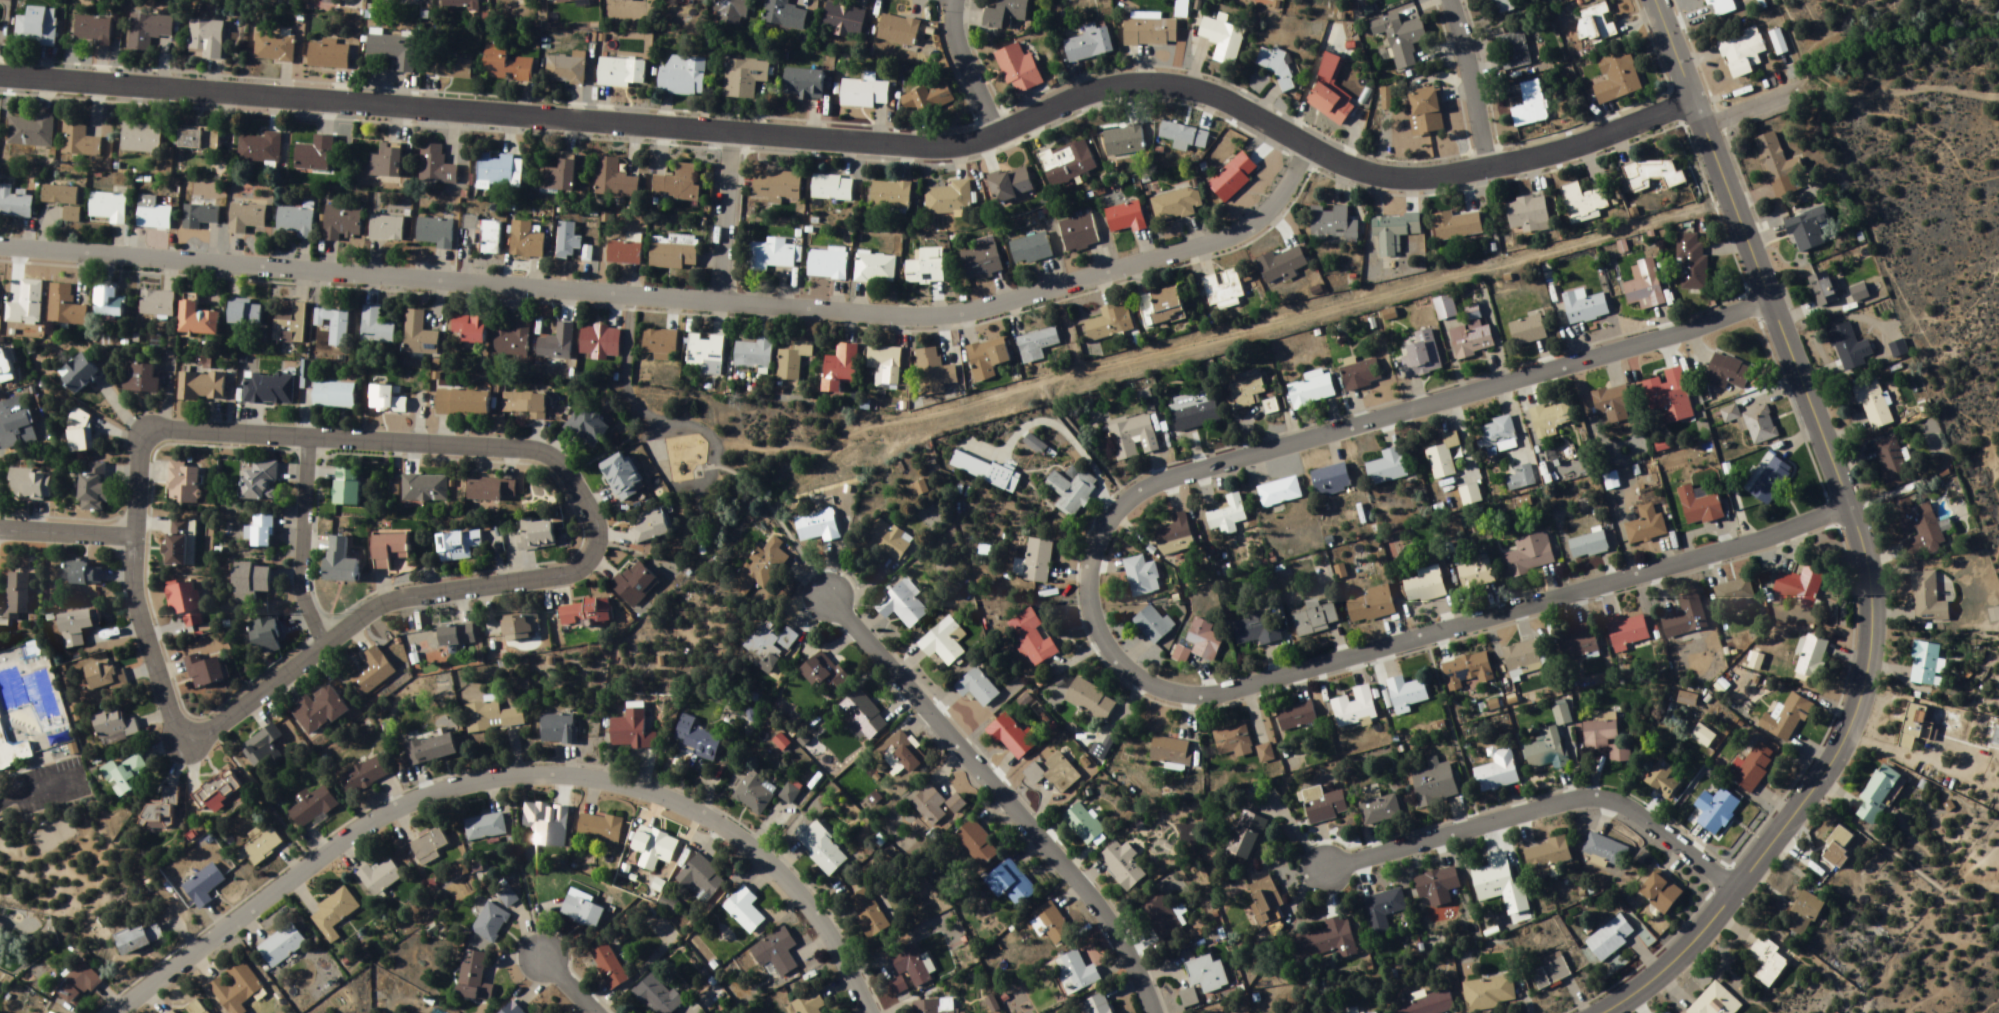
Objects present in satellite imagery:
building: (568, 0)
building: (1370, 0)
building: (516, 1)
road: (947, 1)
building: (459, 4)
building: (1502, 7)
building: (1720, 7)
building: (730, 12)
building: (1005, 14)
building: (784, 15)
building: (843, 19)
building: (1595, 24)
building: (36, 27)
building: (94, 30)
building: (148, 31)
building: (898, 31)
building: (1150, 33)
building: (206, 38)
building: (1400, 39)
building: (1223, 40)
building: (1089, 44)
building: (274, 48)
road: (1672, 50)
building: (393, 51)
building: (1513, 51)
building: (1742, 52)
building: (328, 55)
building: (506, 65)
building: (1276, 65)
road: (966, 66)
building: (448, 68)
building: (567, 69)
building: (1018, 69)
building: (621, 73)
building: (683, 76)
building: (744, 78)
building: (1617, 78)
road: (1467, 81)
building: (803, 84)
road: (1901, 93)
building: (864, 94)
building: (1330, 95)
road: (1752, 97)
building: (926, 99)
building: (1530, 106)
building: (1427, 114)
building: (31, 131)
building: (1184, 136)
building: (78, 138)
building: (141, 138)
road: (865, 138)
building: (198, 139)
building: (1123, 141)
building: (260, 148)
building: (315, 155)
building: (385, 161)
building: (1067, 163)
building: (436, 165)
building: (1778, 166)
building: (499, 170)
building: (1654, 174)
building: (559, 177)
building: (1233, 177)
building: (614, 180)
building: (677, 185)
building: (1011, 185)
building: (777, 186)
building: (832, 188)
building: (891, 196)
building: (949, 199)
building: (64, 200)
building: (1583, 200)
building: (14, 204)
building: (1175, 206)
building: (107, 208)
road: (723, 213)
building: (152, 214)
building: (1528, 214)
building: (200, 215)
building: (246, 218)
building: (1126, 218)
building: (295, 222)
building: (342, 224)
building: (1332, 224)
building: (1457, 226)
building: (386, 229)
building: (1808, 229)
building: (1079, 232)
building: (1394, 232)
building: (435, 233)
building: (486, 235)
building: (527, 240)
building: (567, 241)
building: (1029, 250)
building: (674, 253)
building: (624, 254)
building: (772, 255)
building: (981, 263)
building: (1692, 263)
building: (827, 265)
building: (1282, 265)
building: (875, 268)
building: (926, 268)
building: (1644, 286)
building: (1223, 289)
building: (1823, 289)
building: (1859, 293)
road: (678, 294)
building: (108, 303)
building: (157, 304)
building: (26, 305)
building: (1584, 307)
building: (65, 308)
building: (1161, 308)
building: (1445, 308)
building: (245, 314)
building: (197, 320)
building: (289, 325)
building: (333, 326)
building: (1105, 326)
building: (376, 328)
building: (468, 330)
building: (1528, 331)
building: (418, 336)
building: (513, 340)
building: (1473, 341)
building: (600, 343)
building: (659, 344)
building: (557, 345)
building: (1036, 346)
building: (1850, 348)
building: (1899, 350)
road: (1147, 351)
building: (706, 354)
building: (754, 355)
building: (1422, 356)
building: (987, 359)
building: (792, 362)
road: (621, 364)
building: (6, 366)
building: (885, 366)
building: (840, 369)
building: (934, 373)
building: (1728, 373)
building: (78, 374)
building: (1361, 374)
building: (140, 379)
building: (202, 387)
building: (1246, 388)
building: (269, 389)
building: (1311, 390)
building: (334, 396)
building: (1669, 396)
building: (386, 401)
building: (1612, 403)
building: (462, 404)
building: (1873, 404)
building: (524, 405)
building: (1194, 411)
building: (1731, 414)
road: (1388, 418)
building: (1552, 419)
building: (13, 422)
building: (1760, 425)
building: (587, 429)
building: (79, 432)
building: (1499, 435)
building: (1133, 437)
road: (1077, 443)
building: (1034, 445)
building: (1443, 457)
building: (1892, 463)
building: (1387, 468)
building: (983, 471)
building: (621, 477)
building: (1521, 478)
building: (1331, 481)
building: (1611, 481)
building: (1770, 481)
building: (260, 482)
building: (913, 483)
building: (184, 484)
building: (30, 485)
building: (347, 487)
building: (93, 489)
building: (425, 489)
building: (510, 489)
building: (485, 491)
road: (754, 491)
building: (1071, 492)
building: (1279, 493)
building: (1470, 495)
road: (1844, 498)
building: (1699, 508)
building: (1228, 516)
building: (809, 522)
building: (650, 527)
building: (1919, 528)
building: (1645, 529)
building: (259, 533)
road: (68, 534)
building: (881, 534)
building: (536, 535)
building: (1174, 535)
building: (180, 543)
road: (303, 543)
building: (1589, 544)
building: (458, 546)
building: (389, 551)
building: (1531, 555)
building: (754, 561)
building: (1037, 561)
building: (340, 562)
road: (569, 569)
building: (85, 574)
building: (1476, 575)
building: (1142, 577)
building: (250, 582)
building: (634, 584)
building: (1800, 586)
building: (1424, 588)
building: (1734, 593)
building: (17, 596)
building: (896, 598)
building: (1927, 598)
building: (185, 604)
building: (1371, 605)
building: (585, 614)
building: (1685, 619)
building: (1315, 620)
building: (1153, 625)
building: (520, 627)
building: (76, 628)
building: (1254, 629)
road: (1457, 630)
building: (1627, 632)
building: (1024, 633)
building: (265, 635)
building: (456, 635)
building: (937, 637)
building: (762, 638)
building: (1199, 643)
building: (1580, 644)
building: (1810, 657)
building: (1522, 659)
building: (1756, 662)
building: (1924, 664)
building: (817, 670)
building: (204, 671)
building: (372, 672)
building: (1467, 673)
building: (104, 678)
building: (1053, 679)
building: (970, 682)
building: (1406, 694)
building: (1084, 695)
building: (1687, 700)
building: (1354, 707)
building: (319, 710)
building: (857, 711)
building: (1296, 716)
building: (491, 717)
building: (1787, 719)
building: (1916, 722)
building: (113, 726)
building: (1003, 728)
building: (558, 730)
building: (632, 731)
building: (1702, 736)
building: (1996, 737)
building: (1606, 738)
building: (696, 741)
building: (1233, 741)
building: (1549, 742)
building: (1163, 747)
building: (262, 748)
building: (896, 748)
building: (430, 750)
building: (1753, 767)
parking lot: (37, 769)
building: (1027, 770)
building: (1056, 770)
building: (1498, 772)
road: (993, 773)
building: (124, 775)
building: (364, 776)
road: (513, 777)
building: (1663, 780)
building: (1435, 783)
road: (36, 784)
building: (221, 792)
building: (868, 792)
building: (754, 794)
building: (790, 794)
building: (1878, 794)
parking lot: (32, 798)
building: (949, 798)
road: (1003, 798)
building: (922, 799)
building: (311, 808)
building: (1326, 808)
building: (1379, 810)
building: (162, 811)
road: (1537, 811)
building: (1716, 811)
building: (1077, 818)
building: (545, 823)
building: (485, 827)
building: (599, 828)
building: (1247, 836)
building: (969, 837)
building: (654, 845)
building: (428, 846)
building: (262, 847)
building: (821, 848)
building: (1838, 849)
building: (1606, 850)
building: (1545, 858)
building: (1118, 861)
building: (1493, 874)
building: (703, 877)
building: (379, 878)
building: (1004, 878)
building: (203, 886)
building: (1437, 887)
building: (1660, 894)
building: (507, 898)
building: (1267, 908)
building: (1157, 909)
building: (581, 910)
building: (744, 910)
building: (1383, 910)
building: (333, 914)
building: (867, 914)
building: (1804, 915)
building: (1046, 918)
building: (490, 923)
building: (1, 928)
building: (1610, 939)
building: (138, 940)
building: (1329, 940)
building: (281, 946)
building: (776, 953)
road: (1669, 956)
road: (1638, 958)
building: (1768, 962)
building: (911, 966)
building: (609, 967)
building: (1068, 968)
building: (1200, 970)
building: (1551, 972)
building: (473, 978)
building: (77, 984)
road: (570, 986)
building: (239, 987)
building: (898, 987)
building: (1489, 994)
building: (657, 997)
building: (1090, 1002)
building: (1191, 1002)
building: (1715, 1002)
road: (1994, 1002)
building: (1428, 1004)
building: (934, 1006)
building: (195, 1008)
building: (510, 1009)
building: (173, 1012)

